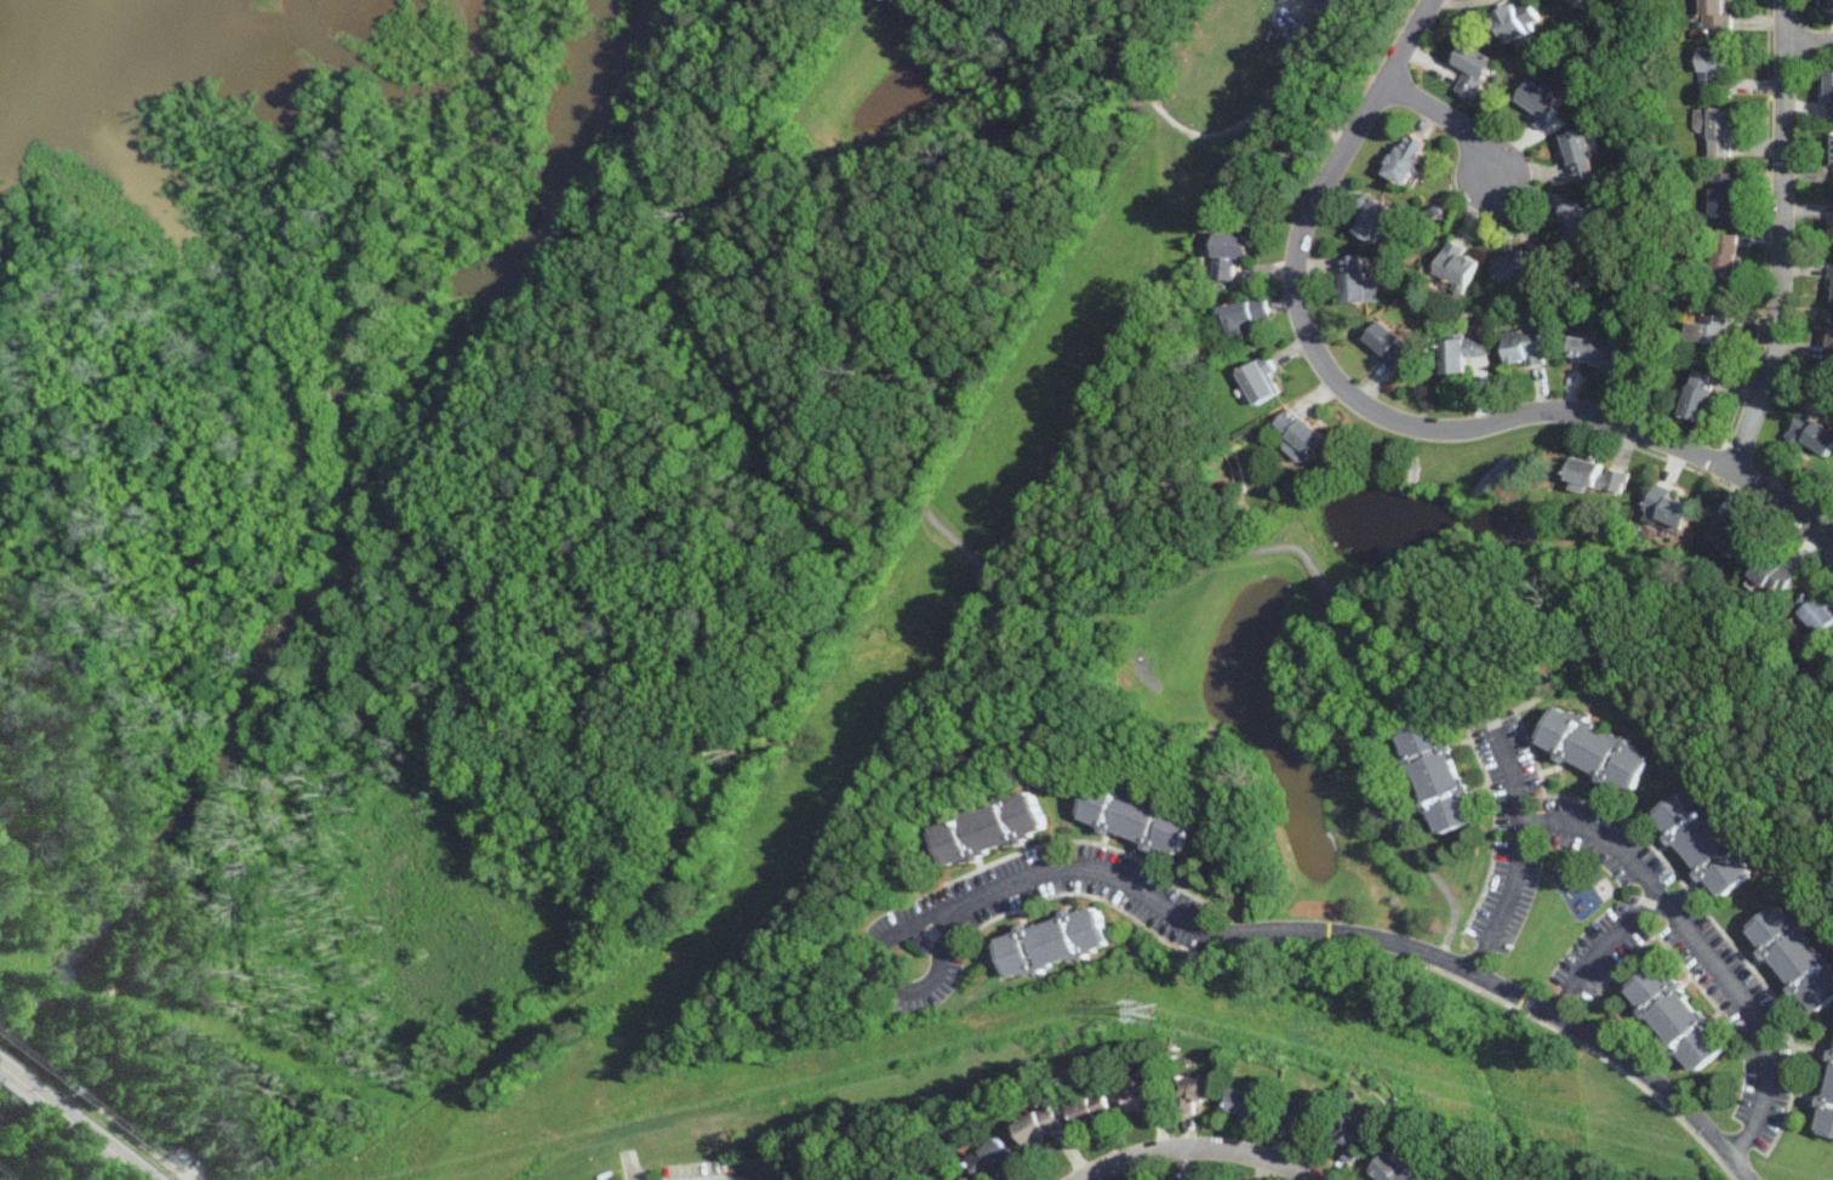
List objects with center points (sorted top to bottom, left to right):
building: (1582, 2)
building: (1829, 2)
building: (1715, 16)
building: (1514, 22)
road: (1142, 25)
road: (1808, 40)
building: (1713, 67)
building: (1472, 70)
building: (1829, 96)
road: (1159, 103)
building: (1540, 103)
road: (1315, 112)
road: (1260, 113)
road: (1450, 125)
building: (1715, 129)
road: (1218, 130)
building: (1580, 155)
building: (1404, 159)
building: (1832, 166)
building: (1723, 195)
building: (1374, 220)
building: (1831, 221)
building: (1576, 222)
road: (1780, 236)
building: (1228, 253)
building: (1540, 256)
building: (1724, 260)
building: (1519, 264)
building: (1456, 266)
building: (1355, 283)
building: (1831, 286)
building: (1243, 317)
building: (1709, 329)
building: (1386, 346)
building: (1829, 347)
building: (1524, 348)
building: (1592, 350)
building: (1458, 354)
building: (1258, 382)
building: (1698, 397)
road: (556, 403)
road: (1386, 417)
building: (1297, 435)
building: (1812, 435)
road: (936, 469)
building: (1597, 475)
building: (1668, 507)
building: (1729, 536)
river: (337, 557)
building: (1772, 575)
building: (1817, 614)
road: (1343, 616)
building: (1599, 749)
building: (1445, 779)
building: (1143, 820)
road: (1398, 821)
building: (995, 830)
road: (228, 832)
building: (1707, 843)
road: (1514, 859)
road: (1080, 867)
building: (1058, 942)
road: (1598, 948)
road: (1698, 950)
building: (1798, 956)
power tower: (1150, 1015)
building: (1684, 1020)
road: (1608, 1045)
road: (35, 1055)
road: (25, 1078)
building: (1193, 1091)
road: (120, 1095)
building: (1143, 1096)
building: (1245, 1102)
building: (1090, 1110)
building: (1828, 1115)
building: (1303, 1117)
building: (1038, 1124)
road: (130, 1131)
building: (1355, 1134)
road: (104, 1139)
road: (1193, 1152)
building: (993, 1159)
parking lot: (194, 1162)
road: (188, 1164)
building: (1392, 1168)
road: (1747, 1178)

